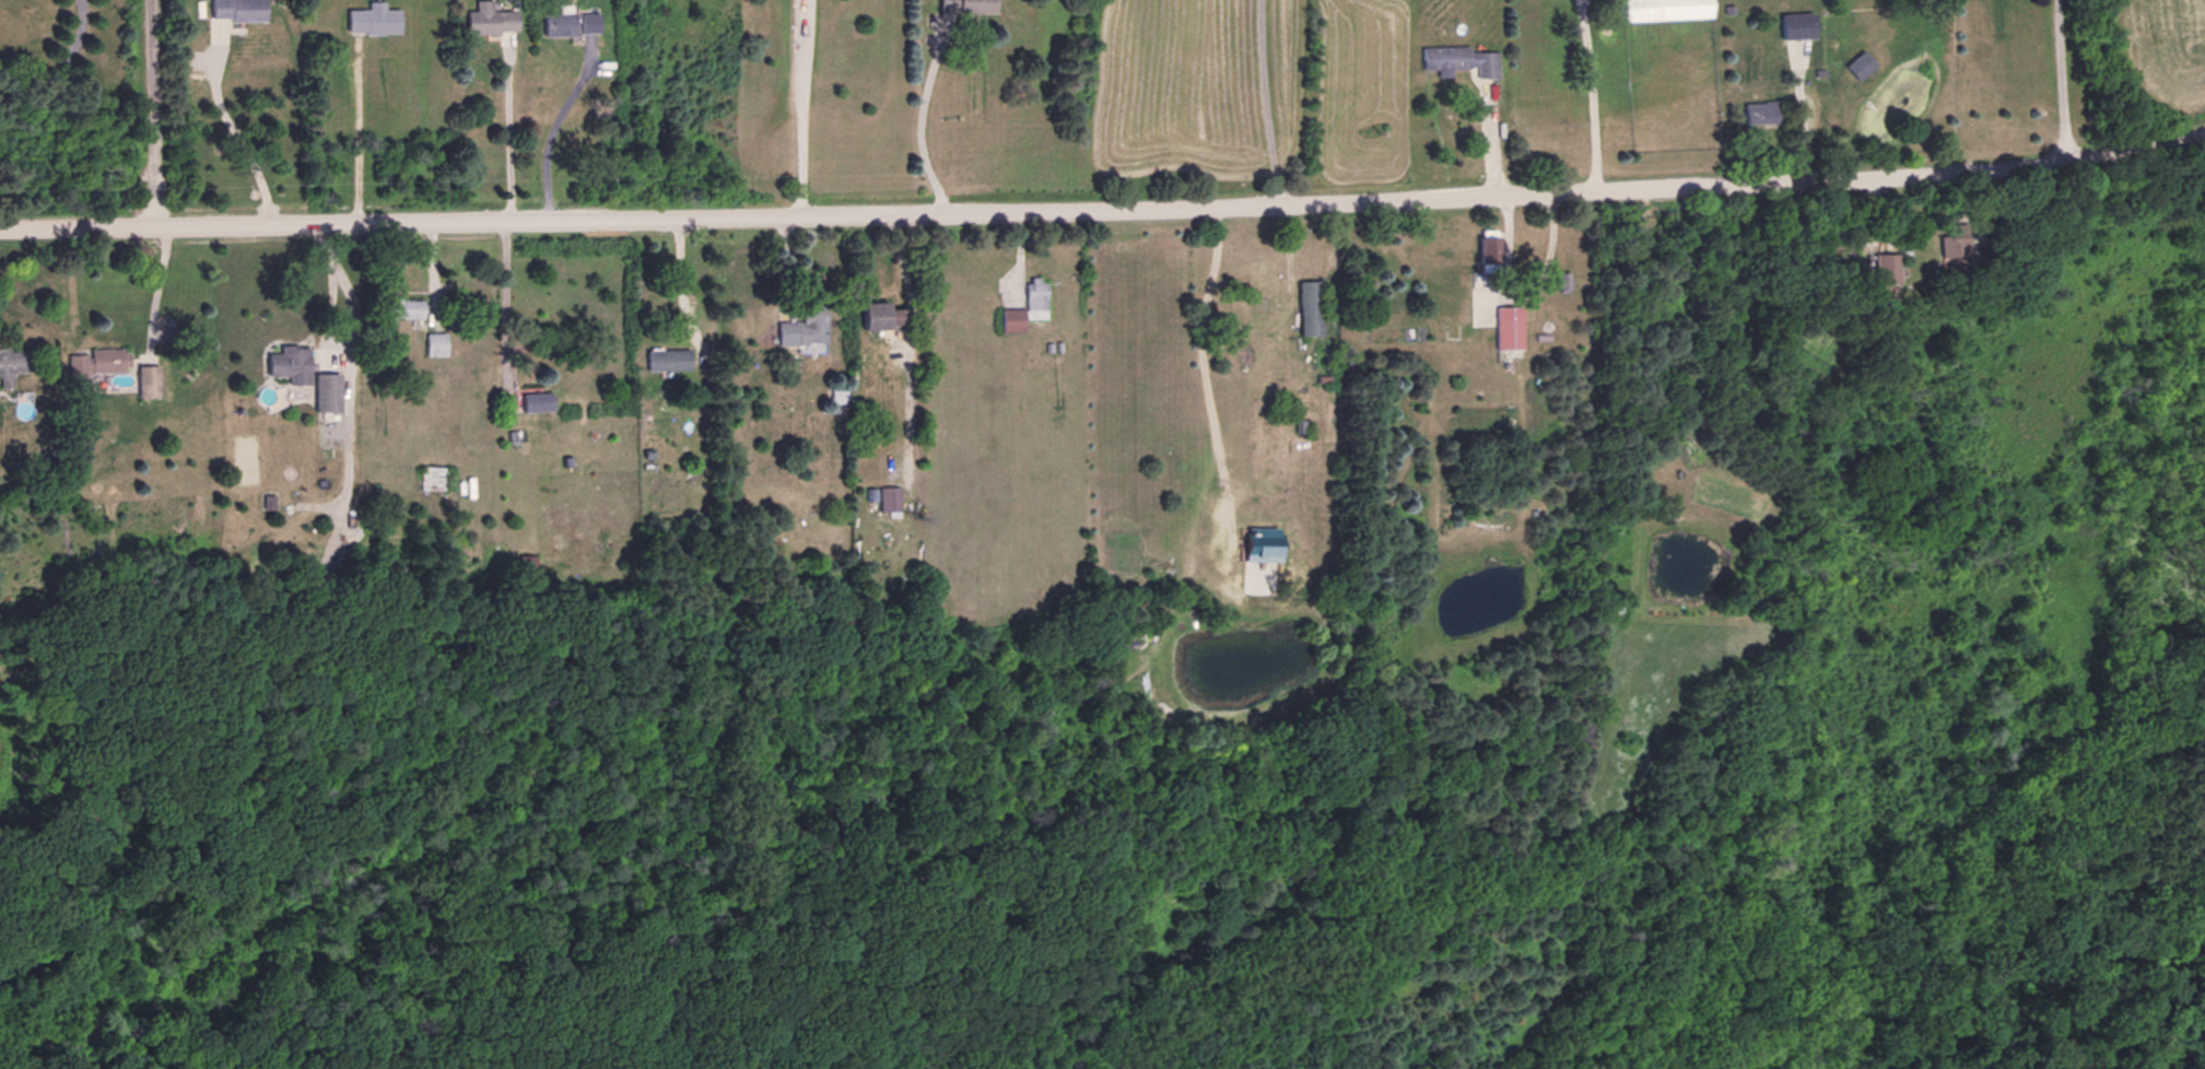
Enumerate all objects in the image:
building: (964, 5)
building: (1664, 9)
building: (373, 19)
building: (489, 19)
building: (588, 22)
building: (556, 24)
building: (1795, 25)
building: (1458, 60)
road: (2059, 77)
road: (1591, 94)
road: (1262, 102)
road: (797, 106)
road: (151, 111)
road: (915, 122)
road: (550, 125)
road: (233, 134)
road: (504, 136)
road: (1104, 207)
building: (1950, 243)
building: (1487, 249)
building: (1884, 268)
building: (1024, 307)
building: (1309, 307)
building: (406, 308)
building: (878, 316)
road: (1198, 325)
building: (802, 327)
building: (1508, 327)
building: (434, 343)
building: (667, 360)
building: (96, 362)
building: (11, 364)
building: (289, 364)
building: (146, 380)
building: (325, 392)
building: (535, 401)
building: (431, 478)
building: (888, 498)
building: (1264, 543)
park: (1255, 807)

